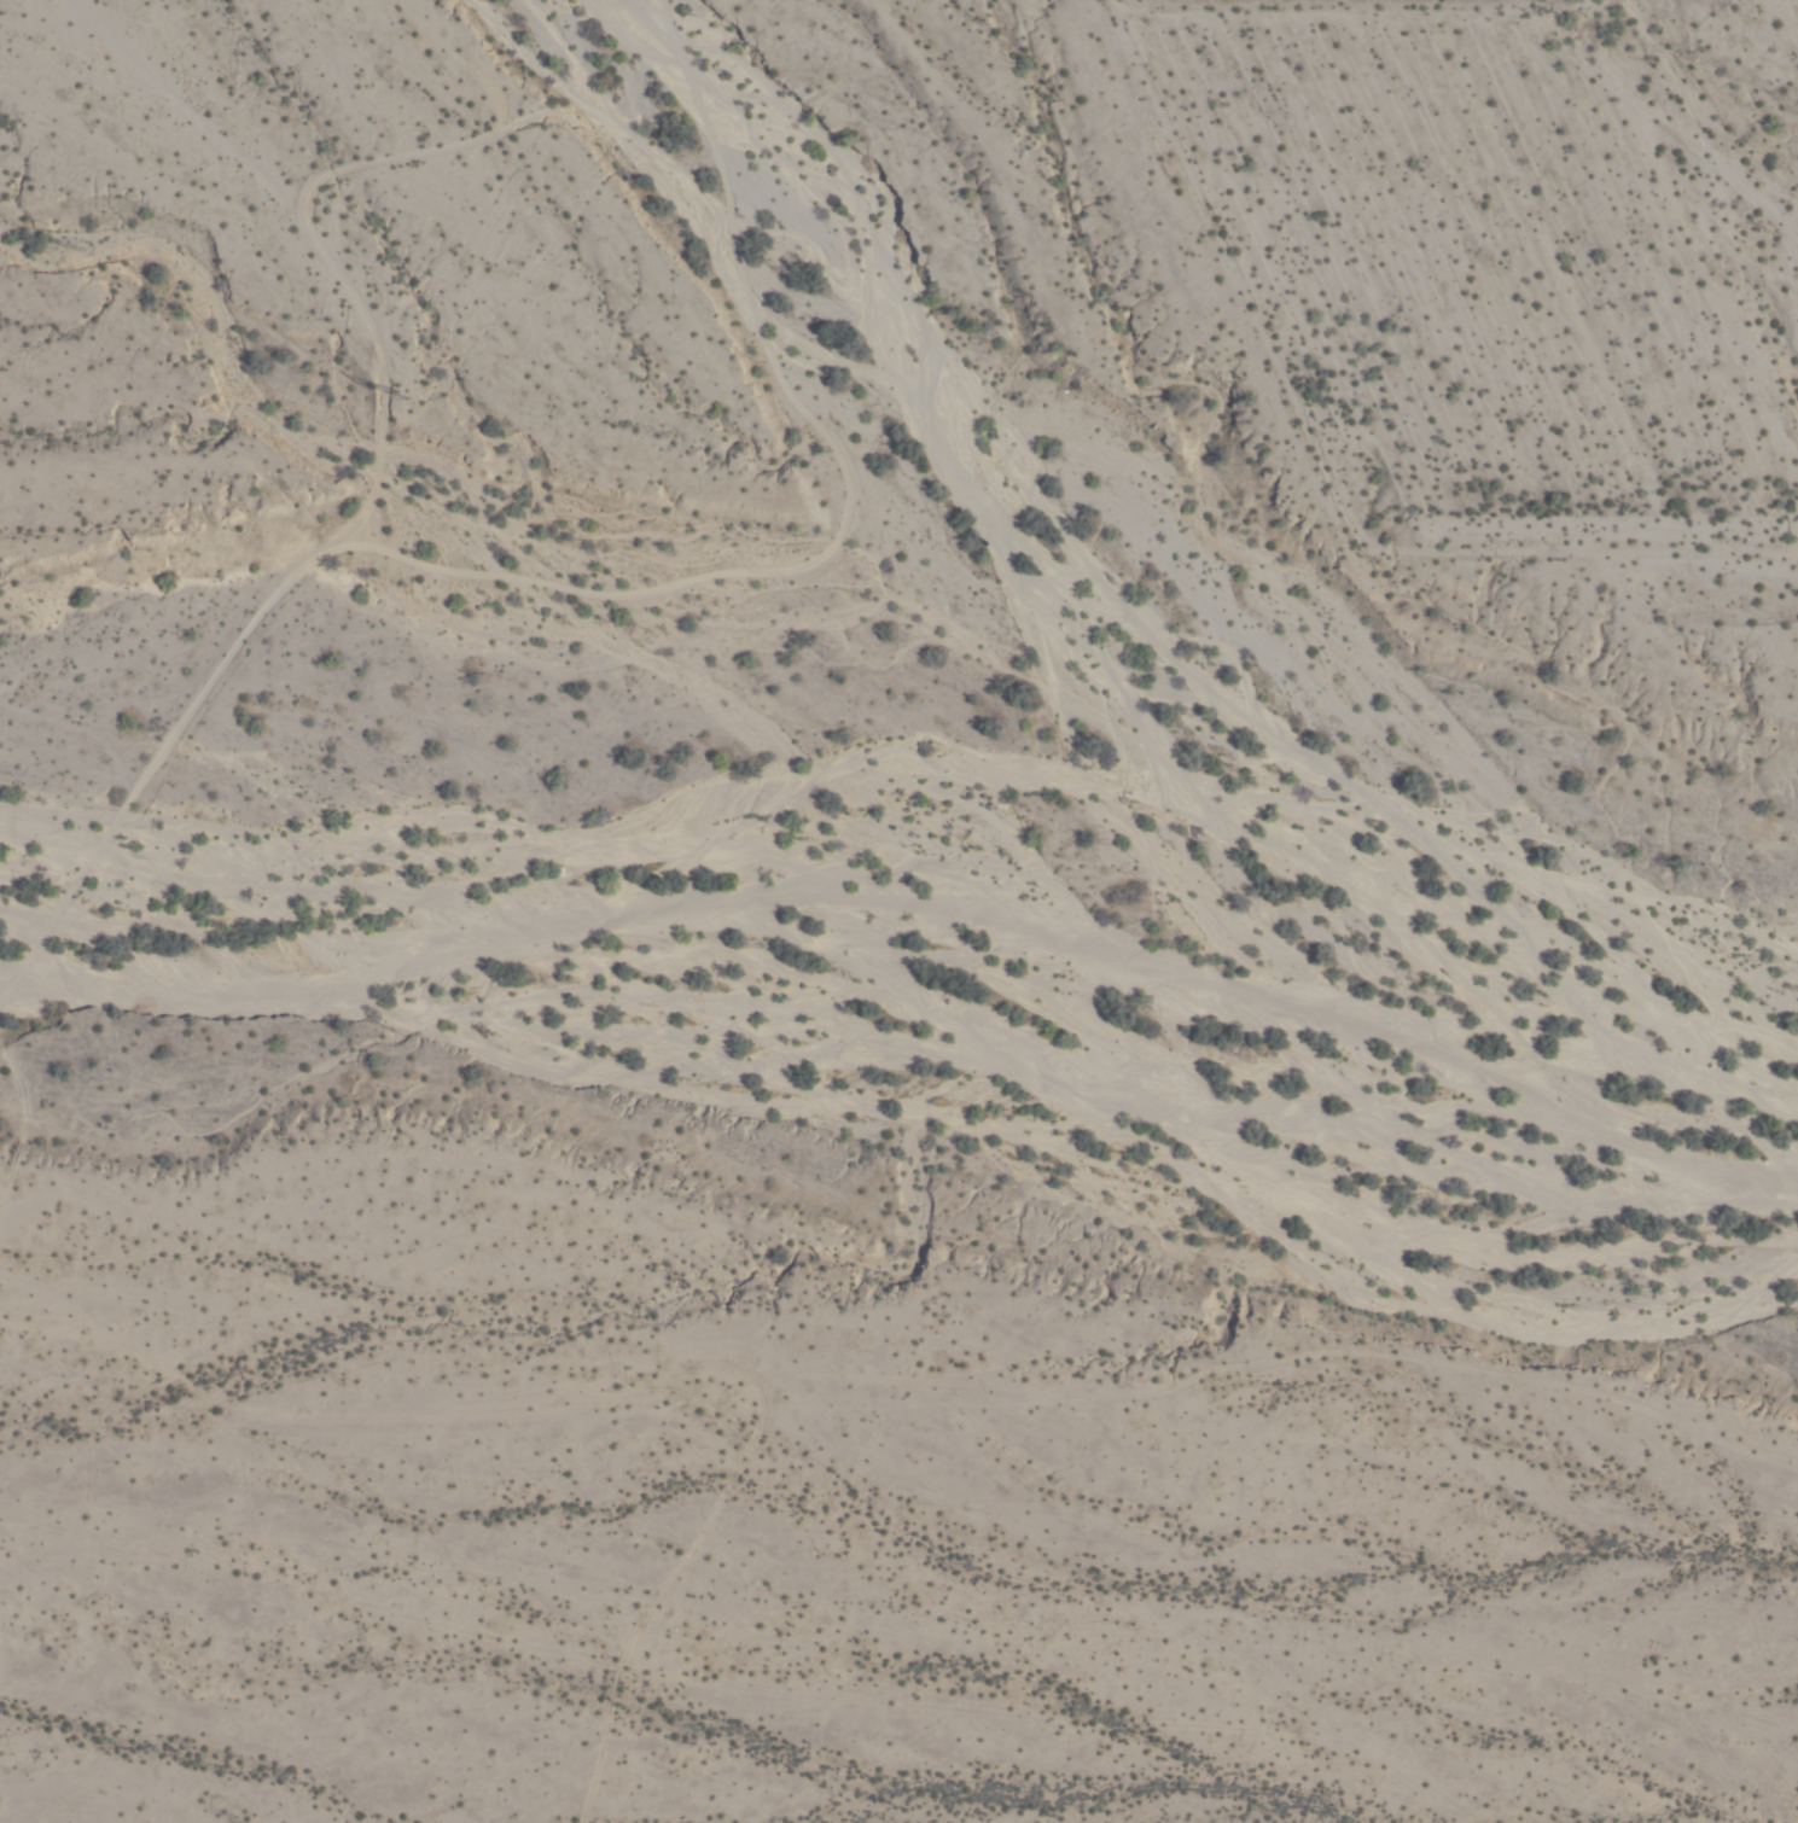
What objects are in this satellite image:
power tower: (407, 389)

